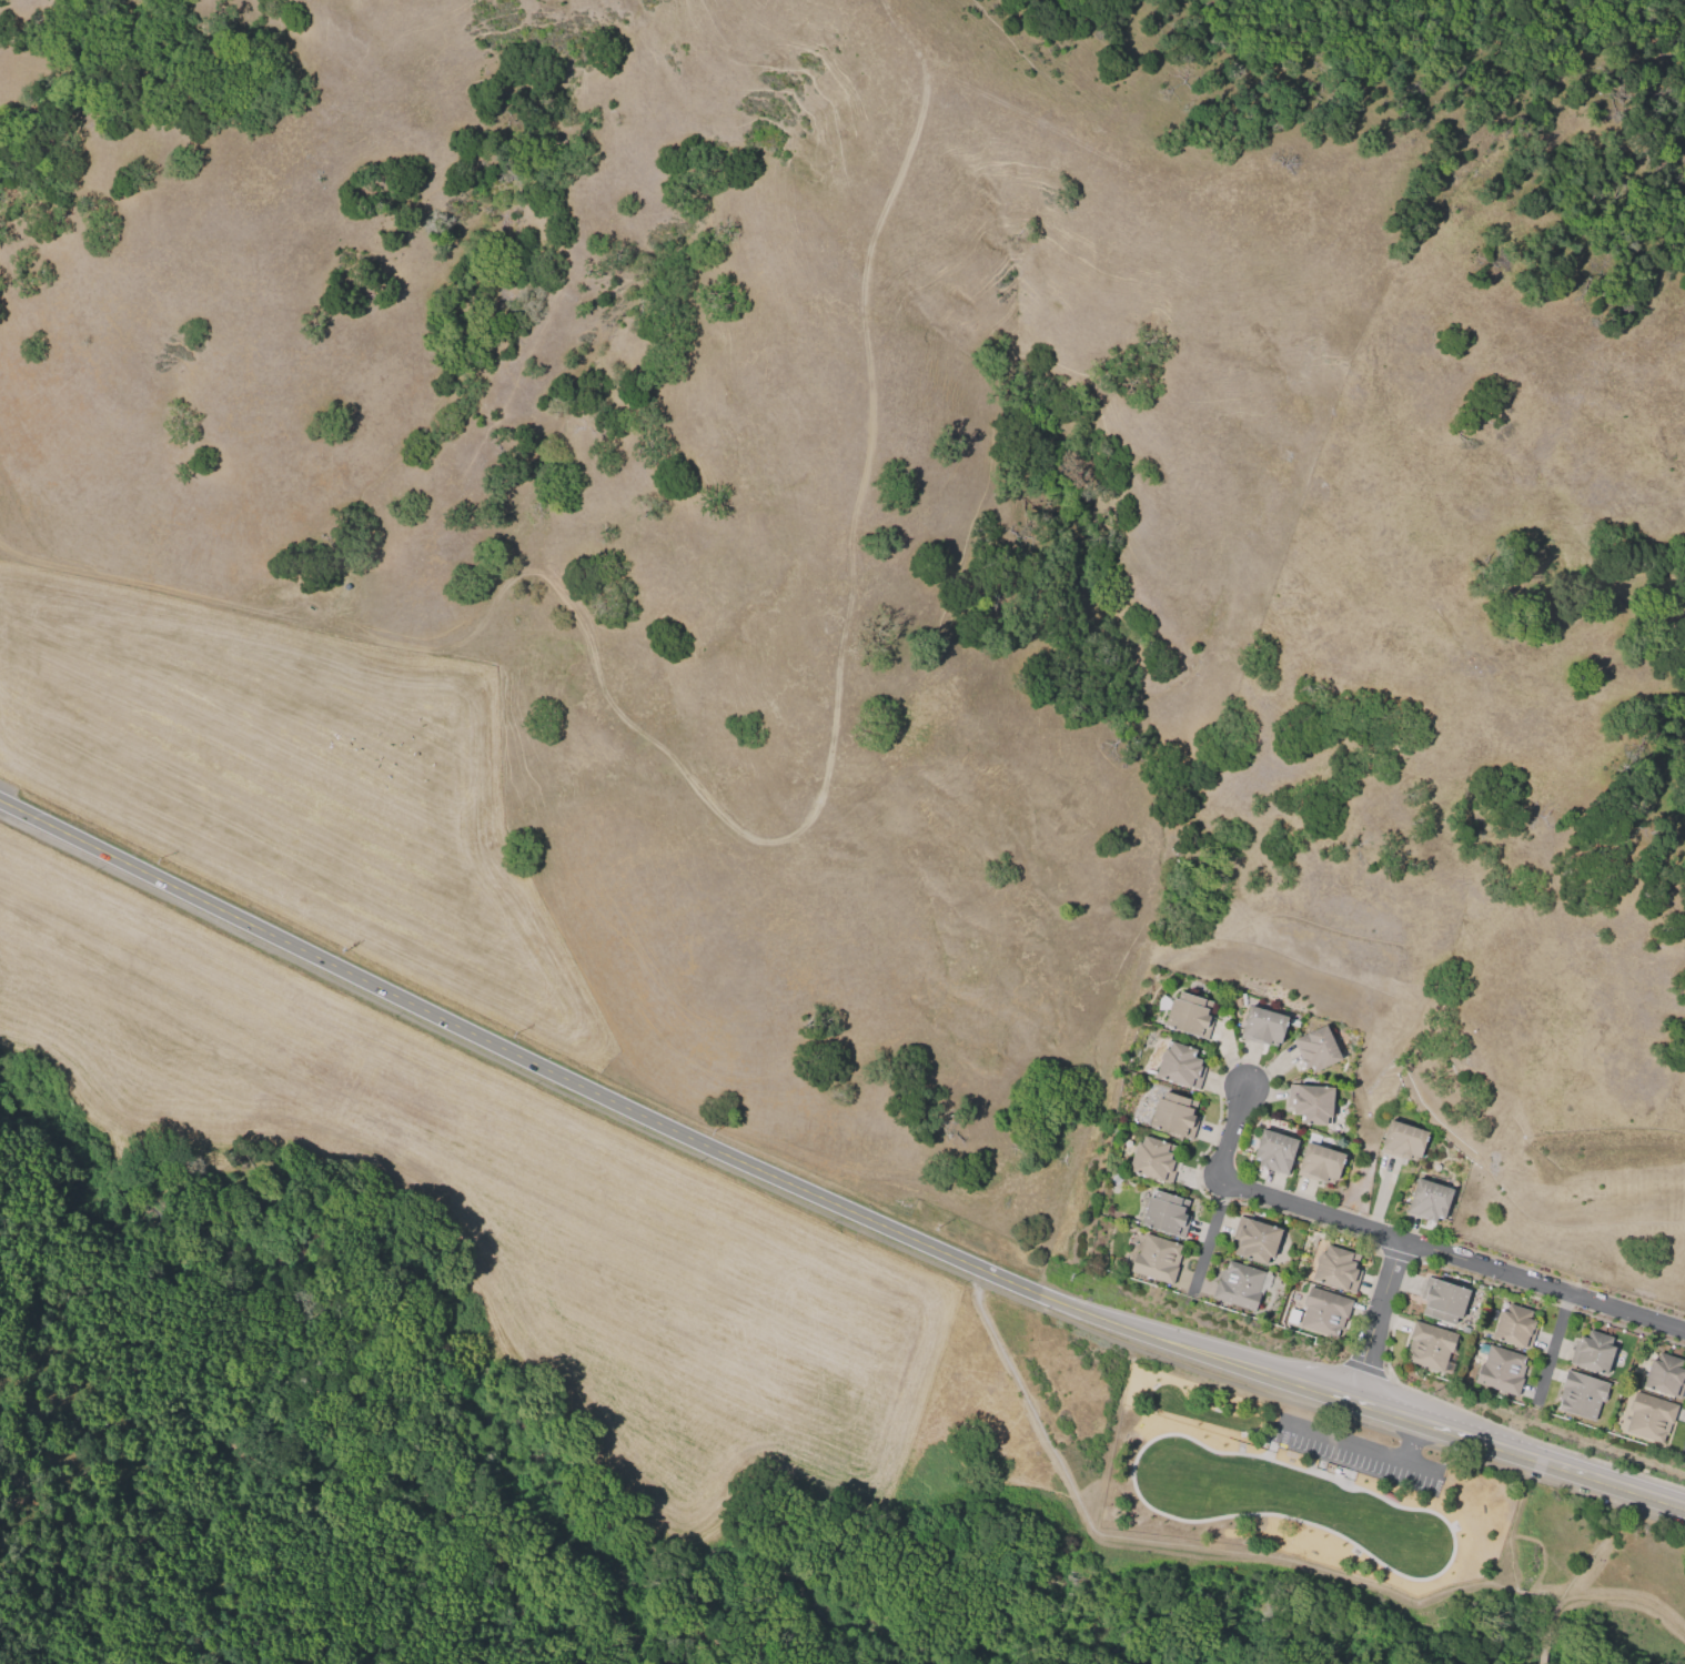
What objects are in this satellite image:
crop: (483, 1013)
building: (1189, 1015)
building: (1262, 1026)
building: (1315, 1049)
building: (1180, 1065)
building: (1310, 1102)
building: (1174, 1115)
road: (664, 1126)
building: (1402, 1141)
building: (1273, 1151)
building: (1153, 1159)
building: (1319, 1163)
road: (1262, 1194)
building: (1427, 1200)
building: (1166, 1213)
road: (1208, 1237)
building: (1255, 1239)
building: (1157, 1259)
building: (1336, 1269)
road: (134, 1274)
road: (1543, 1283)
building: (1239, 1285)
building: (1442, 1300)
building: (1324, 1312)
road: (1376, 1318)
building: (1514, 1327)
building: (1429, 1345)
road: (1552, 1347)
building: (1592, 1352)
building: (1501, 1371)
building: (1665, 1375)
park: (633, 1380)
building: (1581, 1394)
river: (452, 1405)
building: (1648, 1418)
road: (1412, 1440)
road: (1361, 1448)
road: (1518, 1451)
parking lot: (1359, 1453)
crop: (1594, 1571)
road: (1512, 1576)
river: (1197, 1607)
road: (707, 1628)

